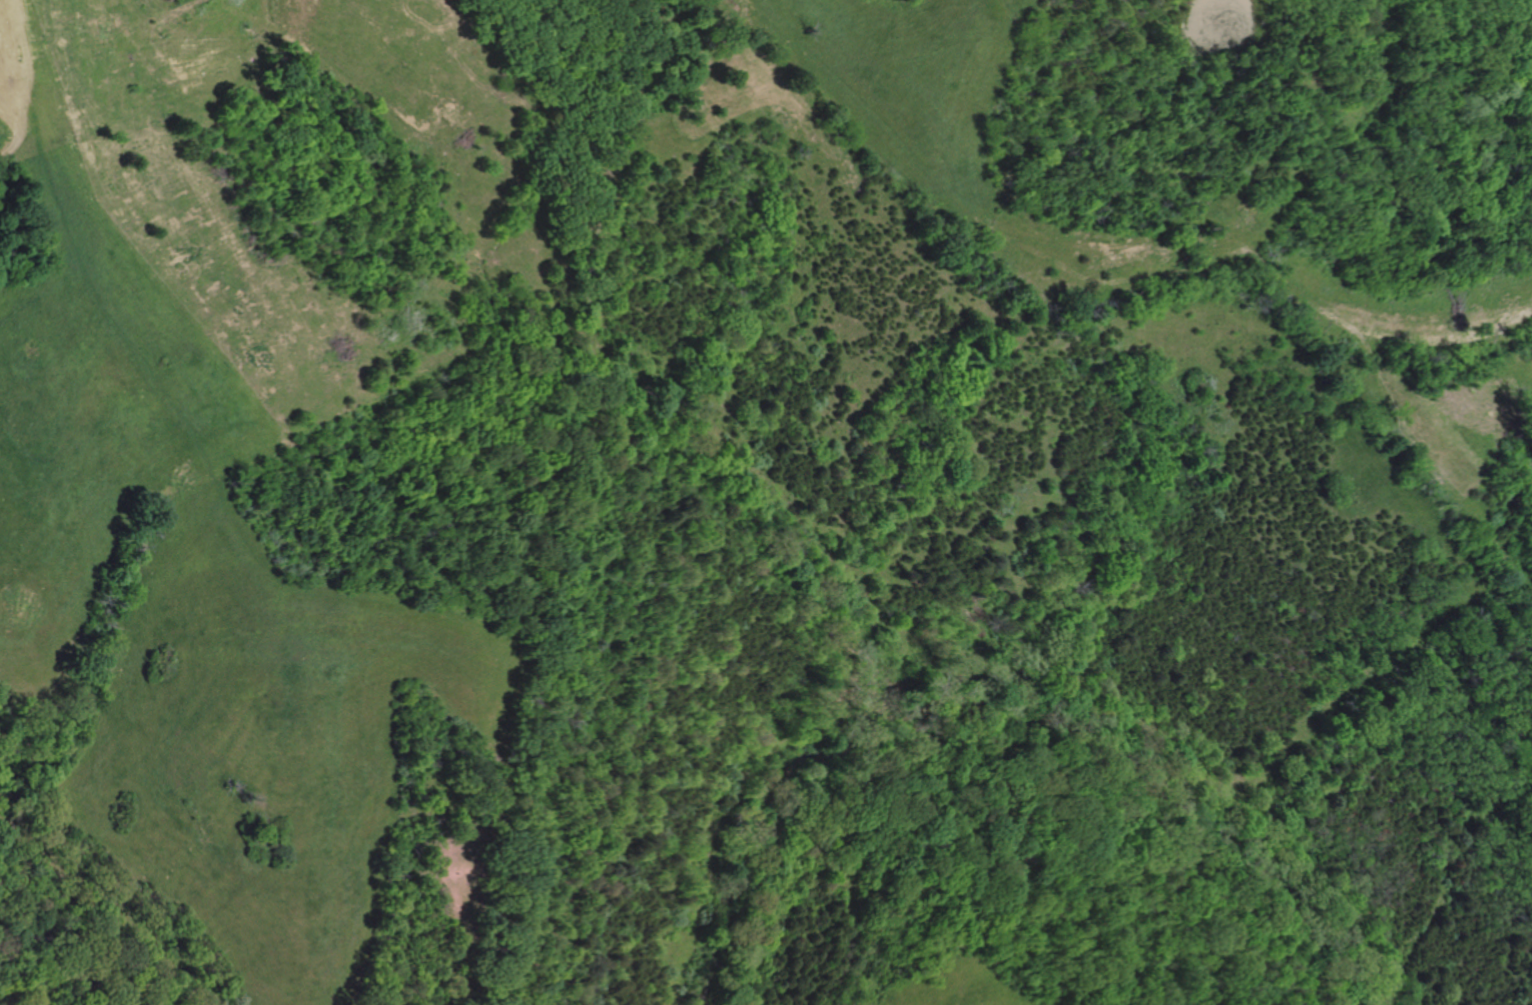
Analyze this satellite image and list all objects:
road: (1118, 248)
road: (1512, 301)

